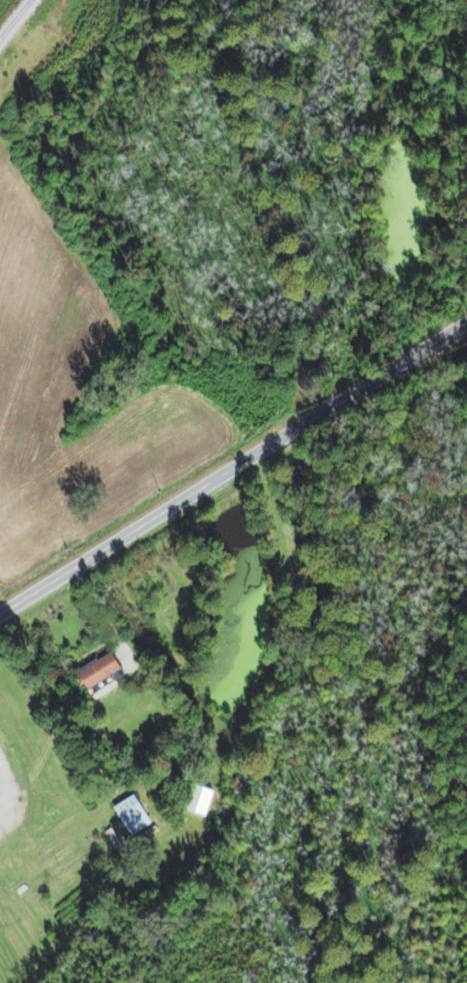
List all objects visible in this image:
railway: (7, 10)
building: (74, 422)
road: (233, 466)
building: (92, 674)
building: (125, 815)

